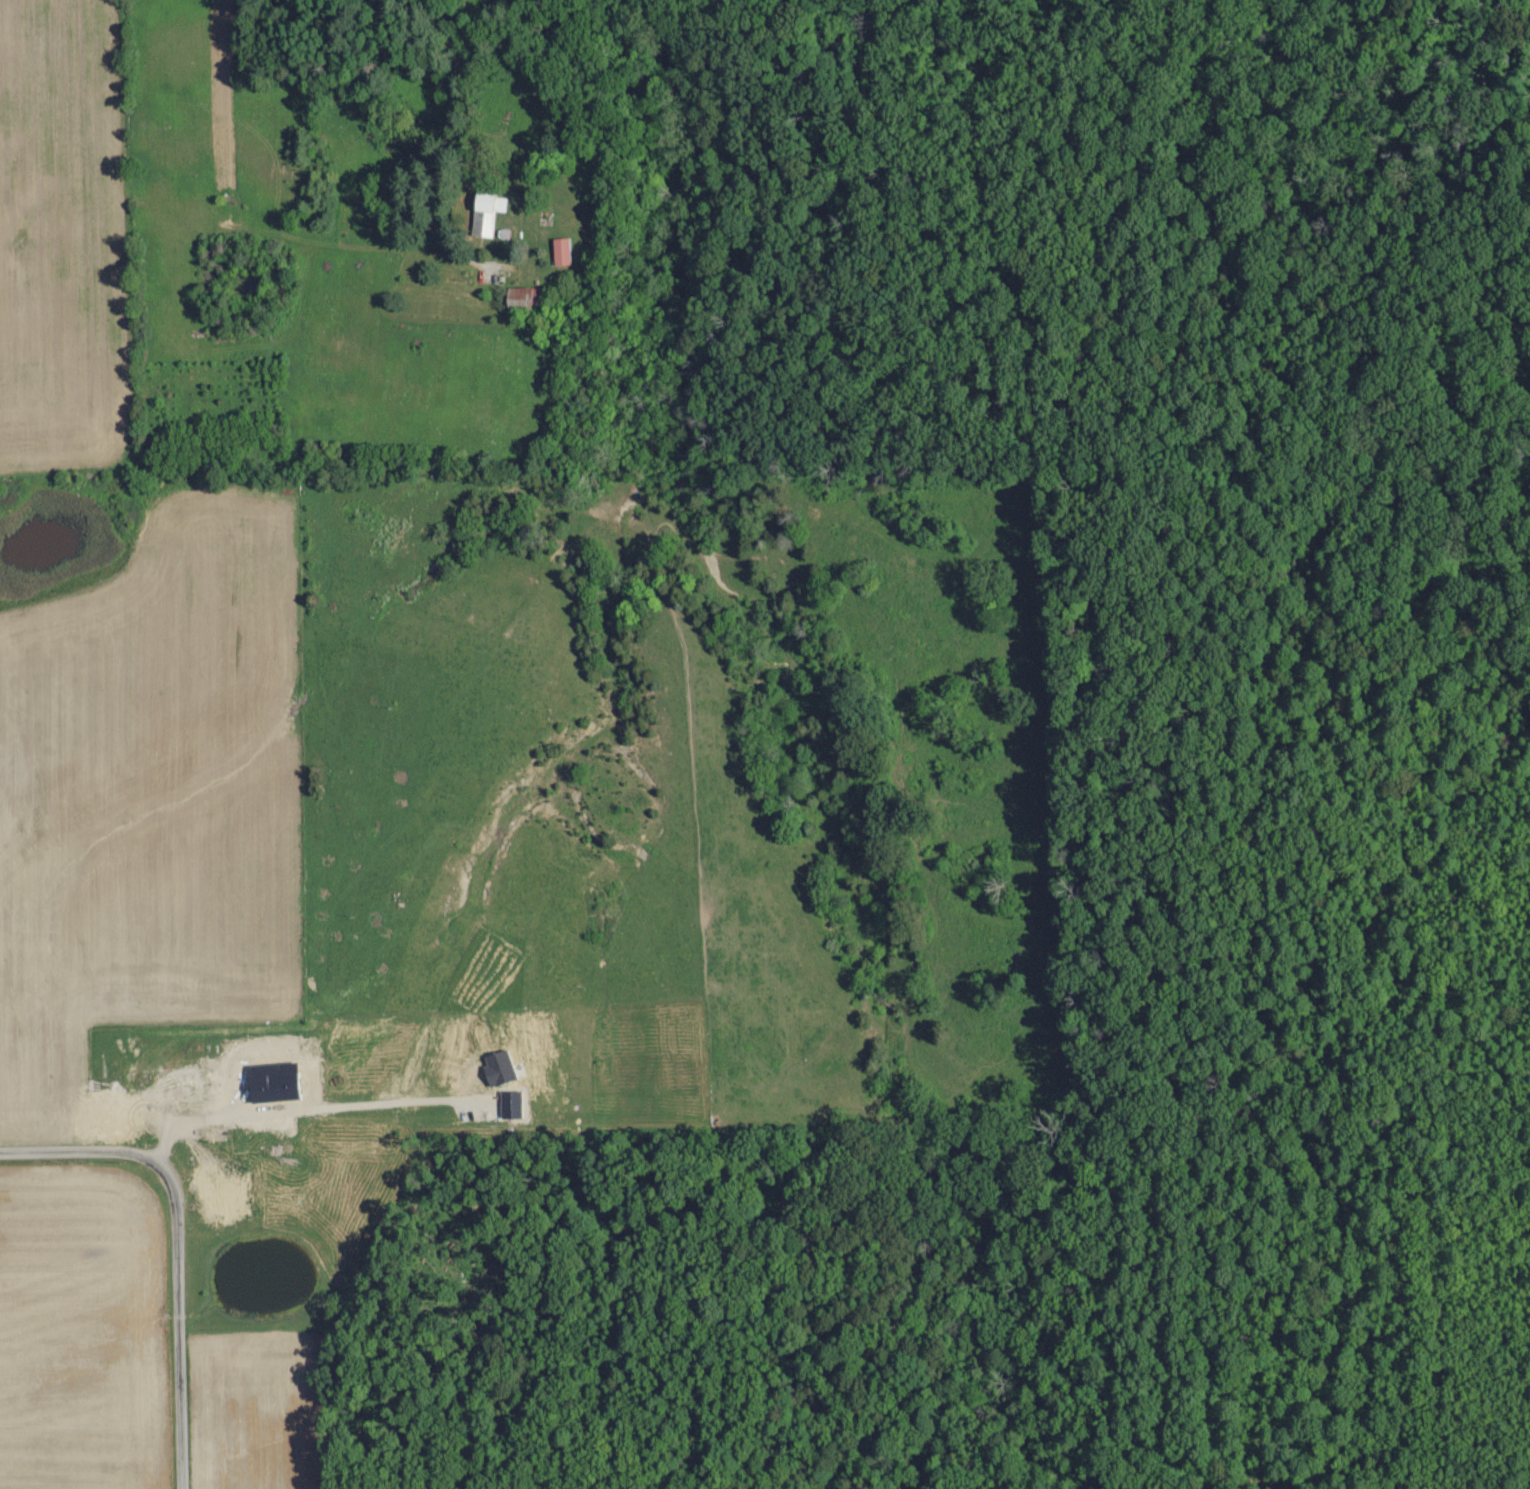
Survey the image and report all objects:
road: (445, 145)
building: (488, 215)
building: (564, 252)
building: (527, 301)
building: (181, 1086)
building: (121, 1130)
building: (225, 1202)
road: (173, 1247)

